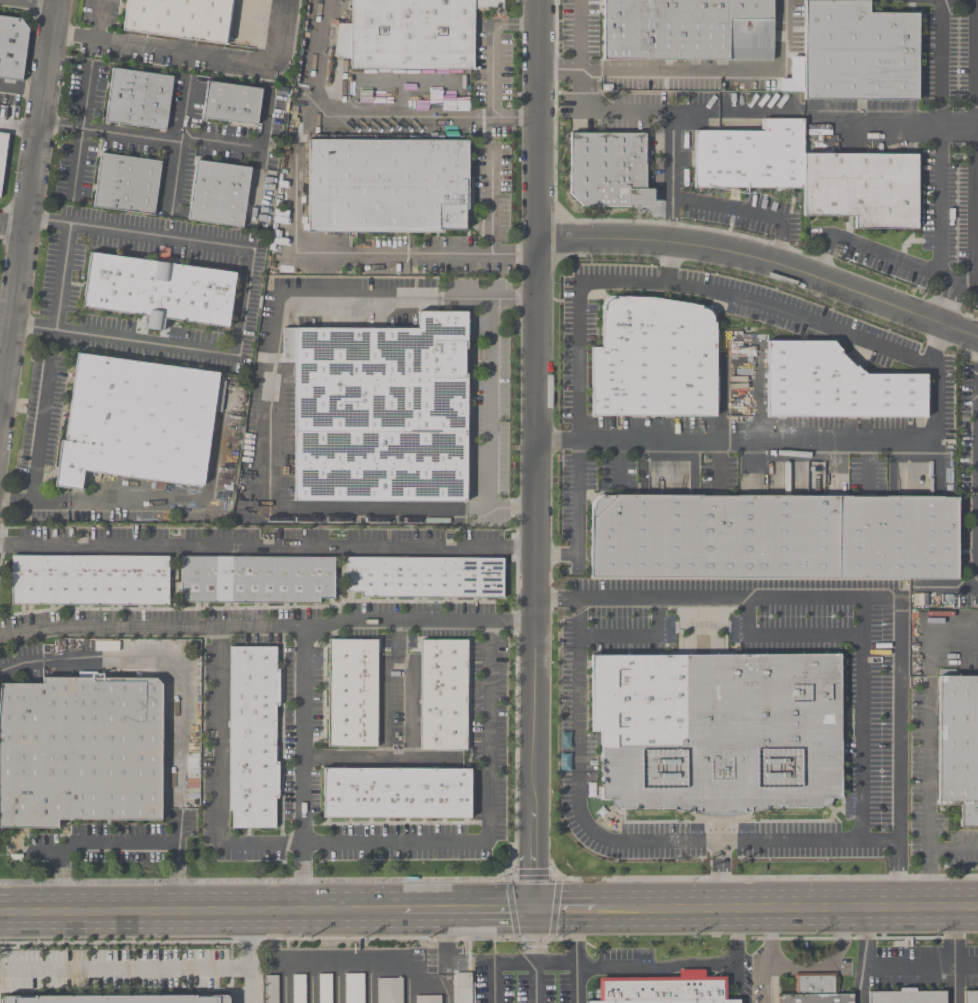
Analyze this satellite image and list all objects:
road: (976, 0)
road: (45, 1)
building: (179, 18)
road: (103, 19)
building: (687, 30)
building: (410, 34)
building: (12, 47)
road: (191, 50)
building: (854, 53)
road: (581, 55)
road: (491, 69)
road: (714, 72)
road: (22, 87)
building: (138, 99)
building: (231, 104)
road: (626, 112)
road: (347, 114)
road: (539, 118)
road: (676, 119)
road: (900, 125)
road: (81, 130)
road: (141, 136)
road: (941, 138)
road: (220, 140)
road: (974, 144)
building: (2, 153)
building: (607, 170)
building: (809, 174)
road: (175, 175)
building: (126, 184)
building: (387, 186)
building: (218, 194)
road: (28, 204)
road: (491, 204)
road: (749, 214)
road: (12, 225)
road: (366, 256)
road: (818, 258)
road: (666, 262)
road: (763, 263)
road: (902, 263)
road: (62, 276)
building: (158, 291)
road: (939, 299)
road: (242, 302)
road: (951, 304)
road: (6, 310)
road: (938, 346)
road: (906, 356)
building: (654, 360)
road: (1, 386)
building: (836, 386)
road: (723, 391)
road: (758, 392)
road: (490, 400)
road: (271, 407)
building: (379, 412)
building: (137, 422)
road: (42, 429)
road: (618, 465)
road: (718, 465)
road: (868, 465)
road: (158, 500)
road: (576, 519)
building: (773, 537)
road: (267, 548)
road: (534, 575)
building: (423, 578)
building: (256, 580)
building: (89, 581)
road: (874, 597)
road: (267, 624)
road: (788, 634)
road: (635, 637)
road: (172, 668)
road: (385, 685)
building: (351, 694)
building: (442, 696)
road: (411, 710)
road: (929, 717)
road: (865, 719)
building: (716, 731)
road: (304, 733)
building: (252, 738)
building: (958, 746)
building: (79, 751)
road: (378, 757)
building: (396, 793)
road: (579, 816)
road: (123, 842)
road: (354, 842)
road: (809, 842)
road: (44, 854)
road: (928, 856)
road: (303, 877)
road: (200, 912)
road: (465, 912)
road: (564, 912)
road: (788, 913)
road: (576, 938)
road: (737, 940)
road: (446, 947)
road: (249, 957)
road: (769, 958)
road: (864, 958)
road: (954, 958)
road: (517, 961)
road: (824, 963)
road: (966, 964)
road: (349, 965)
road: (652, 965)
road: (909, 965)
road: (125, 968)
road: (576, 984)
building: (464, 987)
building: (325, 988)
building: (354, 988)
building: (272, 989)
building: (299, 989)
building: (663, 989)
building: (389, 990)
building: (815, 990)
road: (447, 993)
building: (906, 997)
building: (970, 997)
building: (115, 999)
building: (429, 999)

